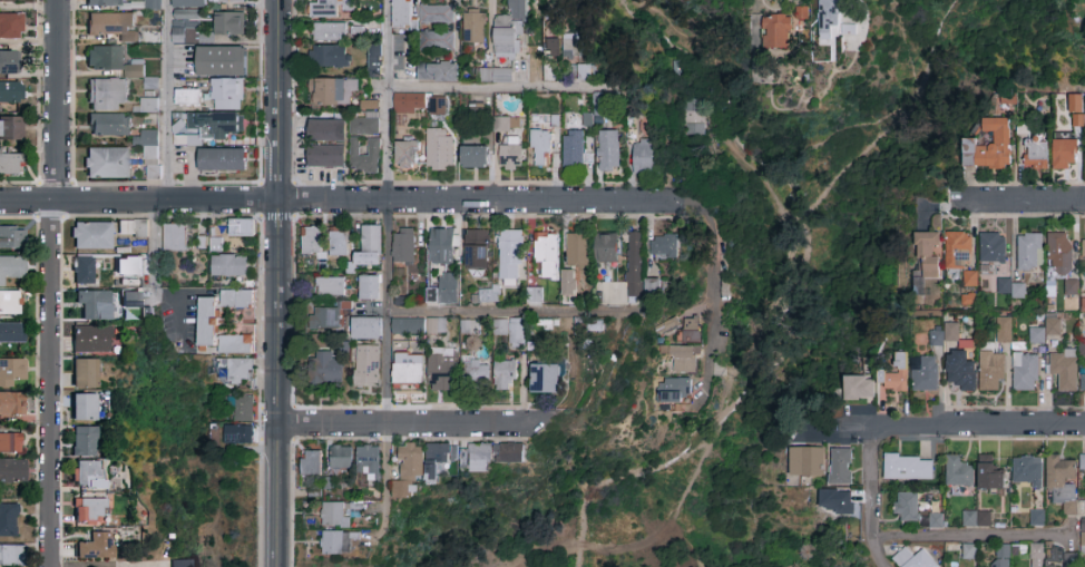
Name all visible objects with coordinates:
building: (11, 1)
building: (106, 2)
building: (201, 3)
building: (153, 4)
building: (330, 8)
building: (185, 13)
building: (401, 13)
building: (437, 14)
building: (829, 18)
building: (804, 19)
building: (229, 25)
building: (11, 26)
building: (114, 26)
building: (475, 27)
building: (185, 29)
building: (330, 32)
building: (780, 32)
building: (509, 33)
building: (437, 41)
building: (571, 43)
building: (331, 57)
building: (105, 58)
building: (222, 61)
building: (10, 62)
building: (373, 67)
building: (587, 70)
building: (134, 71)
building: (438, 71)
building: (496, 75)
road: (491, 89)
road: (1020, 90)
building: (11, 91)
building: (332, 91)
building: (228, 94)
building: (106, 95)
building: (188, 97)
road: (56, 99)
road: (165, 99)
building: (409, 102)
building: (598, 102)
building: (366, 104)
building: (149, 106)
building: (437, 106)
building: (694, 116)
building: (364, 124)
building: (109, 125)
building: (209, 127)
building: (11, 128)
building: (326, 130)
building: (540, 141)
building: (509, 143)
building: (149, 145)
building: (988, 147)
building: (574, 148)
building: (439, 149)
building: (608, 150)
building: (1035, 154)
building: (1065, 154)
building: (407, 155)
building: (644, 156)
building: (326, 157)
building: (365, 157)
building: (475, 157)
building: (222, 159)
building: (106, 163)
building: (11, 165)
building: (153, 173)
road: (341, 199)
road: (1022, 201)
building: (134, 228)
building: (242, 228)
building: (91, 235)
building: (12, 237)
building: (175, 238)
building: (371, 241)
building: (314, 242)
building: (339, 243)
road: (154, 245)
building: (403, 245)
building: (441, 246)
building: (664, 246)
building: (991, 248)
building: (1084, 248)
building: (577, 250)
building: (606, 250)
building: (958, 251)
building: (928, 252)
building: (1029, 252)
building: (478, 253)
building: (1059, 253)
building: (547, 254)
building: (510, 255)
building: (364, 257)
road: (384, 263)
building: (635, 265)
building: (128, 266)
building: (229, 266)
building: (11, 267)
building: (84, 271)
building: (968, 277)
road: (274, 283)
building: (330, 286)
road: (713, 286)
building: (653, 287)
building: (369, 289)
building: (448, 289)
building: (1011, 289)
building: (1072, 289)
building: (489, 293)
building: (430, 294)
building: (133, 297)
building: (535, 297)
building: (967, 299)
building: (237, 300)
building: (10, 303)
building: (92, 304)
building: (1083, 305)
building: (149, 312)
road: (511, 312)
building: (324, 319)
building: (208, 322)
road: (788, 322)
building: (665, 324)
building: (1052, 325)
building: (419, 326)
building: (470, 328)
building: (366, 329)
building: (511, 331)
building: (691, 331)
building: (950, 331)
building: (1004, 331)
building: (11, 333)
building: (1036, 336)
building: (937, 338)
building: (90, 340)
building: (241, 345)
building: (1081, 345)
building: (680, 359)
building: (366, 365)
building: (328, 369)
building: (1063, 369)
building: (408, 370)
building: (476, 370)
building: (11, 371)
building: (242, 371)
building: (960, 371)
building: (991, 371)
building: (441, 372)
building: (1025, 372)
building: (85, 373)
building: (925, 373)
building: (505, 375)
building: (897, 375)
building: (546, 379)
road: (50, 382)
building: (1083, 383)
road: (736, 388)
building: (859, 388)
building: (675, 391)
building: (12, 403)
building: (85, 407)
building: (244, 409)
road: (412, 422)
road: (961, 427)
building: (242, 436)
building: (84, 441)
building: (11, 442)
building: (341, 457)
building: (463, 458)
building: (511, 458)
building: (436, 459)
building: (368, 461)
building: (805, 462)
building: (1083, 462)
building: (311, 463)
building: (840, 467)
building: (408, 468)
building: (908, 468)
building: (12, 471)
building: (958, 472)
building: (1027, 472)
building: (87, 473)
building: (990, 475)
building: (325, 481)
building: (1062, 482)
road: (874, 499)
building: (837, 501)
building: (907, 507)
building: (89, 511)
building: (336, 515)
building: (1036, 517)
building: (935, 519)
building: (977, 519)
building: (8, 520)
road: (972, 536)
building: (1083, 536)
building: (332, 542)
building: (95, 546)
building: (968, 550)
building: (1057, 554)
building: (10, 555)
building: (1035, 555)
building: (1001, 556)
building: (912, 559)
building: (1071, 559)
road: (105, 561)
building: (179, 564)

